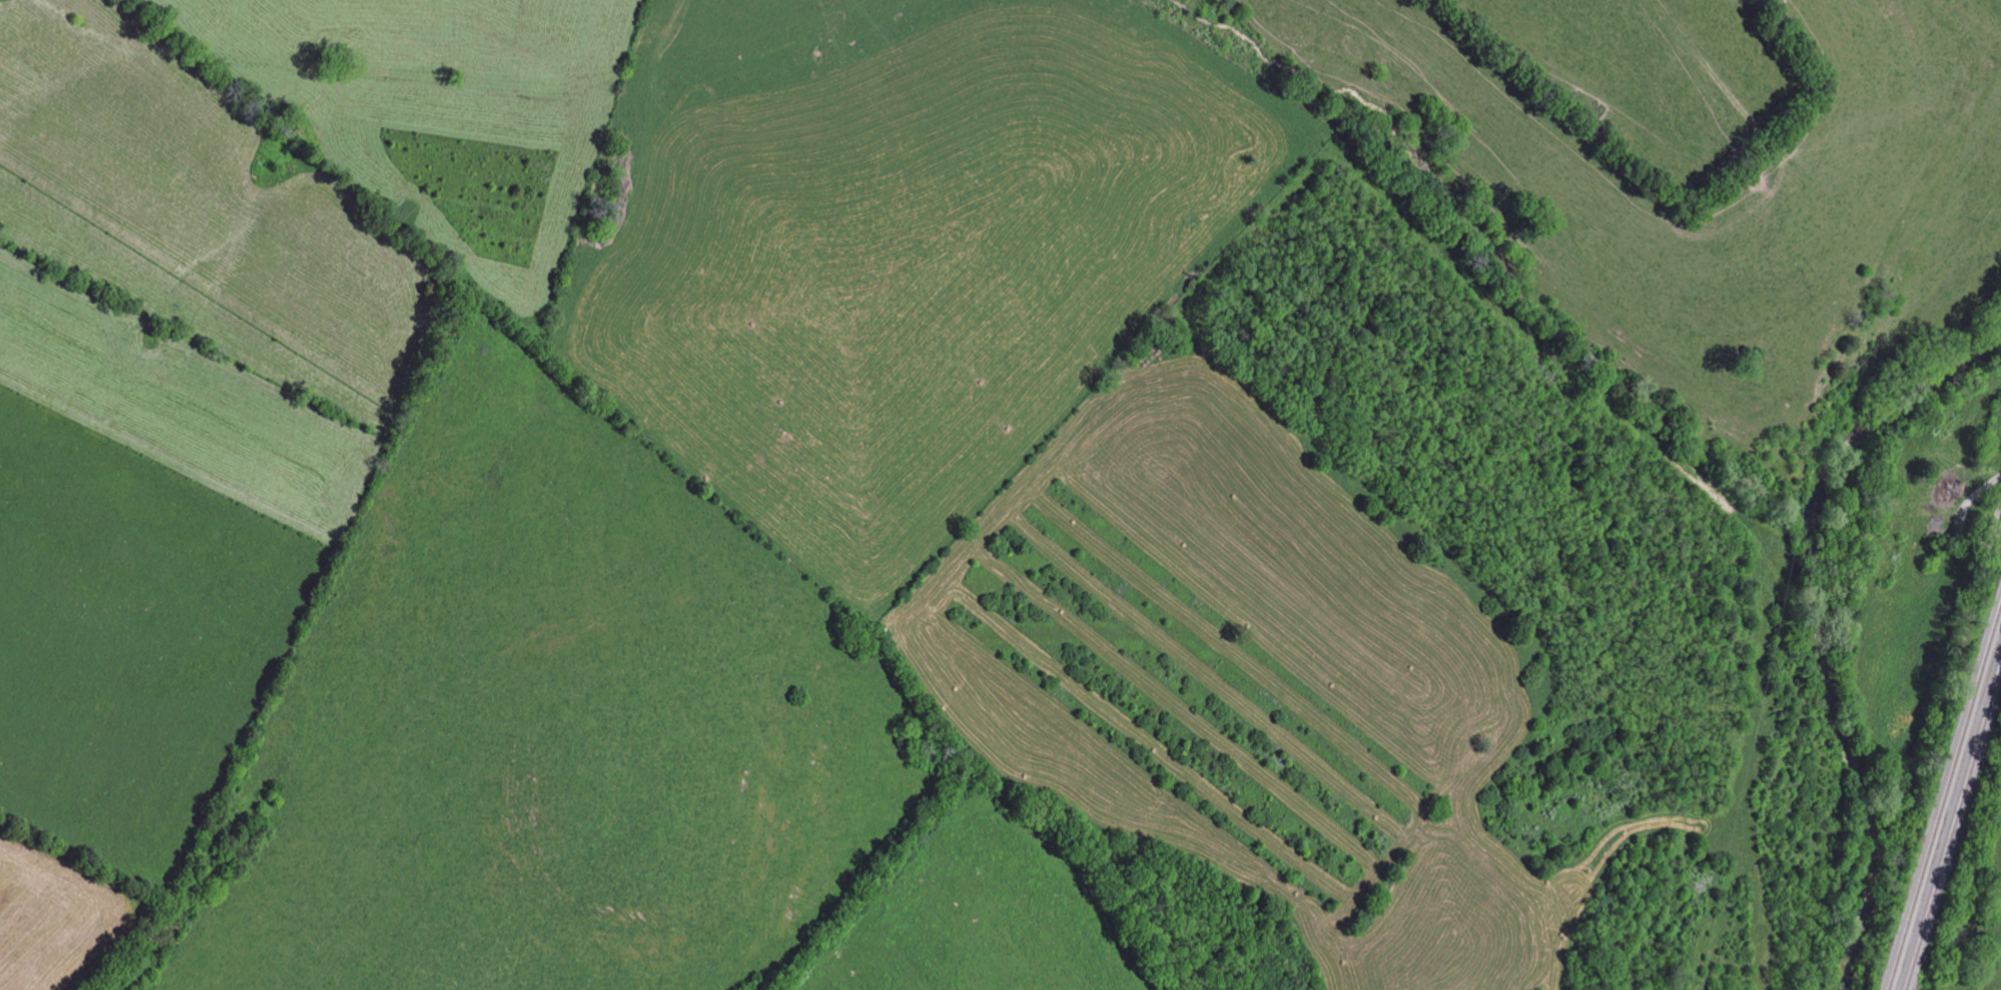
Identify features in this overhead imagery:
road: (1963, 524)
road: (1996, 528)
road: (1953, 680)
railway: (1944, 793)
railway: (1948, 825)

